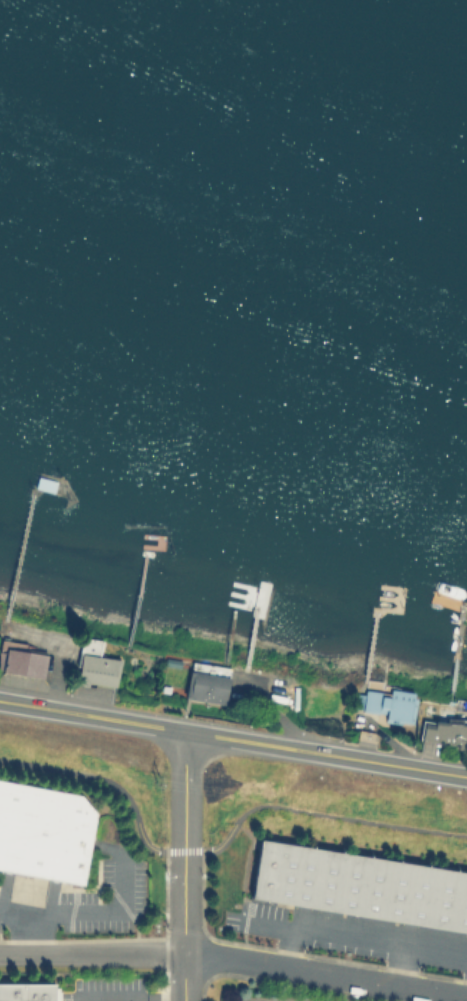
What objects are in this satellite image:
building: (23, 657)
building: (98, 665)
building: (210, 687)
building: (392, 703)
building: (448, 730)
road: (233, 739)
road: (185, 791)
building: (47, 835)
road: (221, 844)
building: (362, 883)
road: (90, 913)
road: (185, 926)
road: (33, 933)
road: (363, 936)
road: (102, 953)
road: (399, 964)
road: (335, 975)
building: (26, 991)
road: (466, 993)
road: (157, 997)
road: (105, 998)
road: (130, 999)

